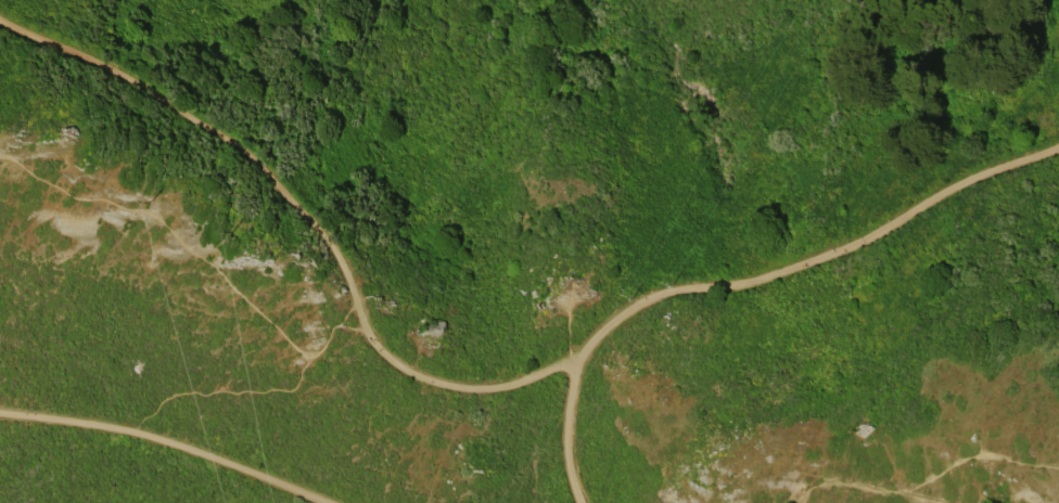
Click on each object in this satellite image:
road: (304, 215)
road: (200, 248)
road: (811, 260)
road: (571, 437)
road: (167, 441)

